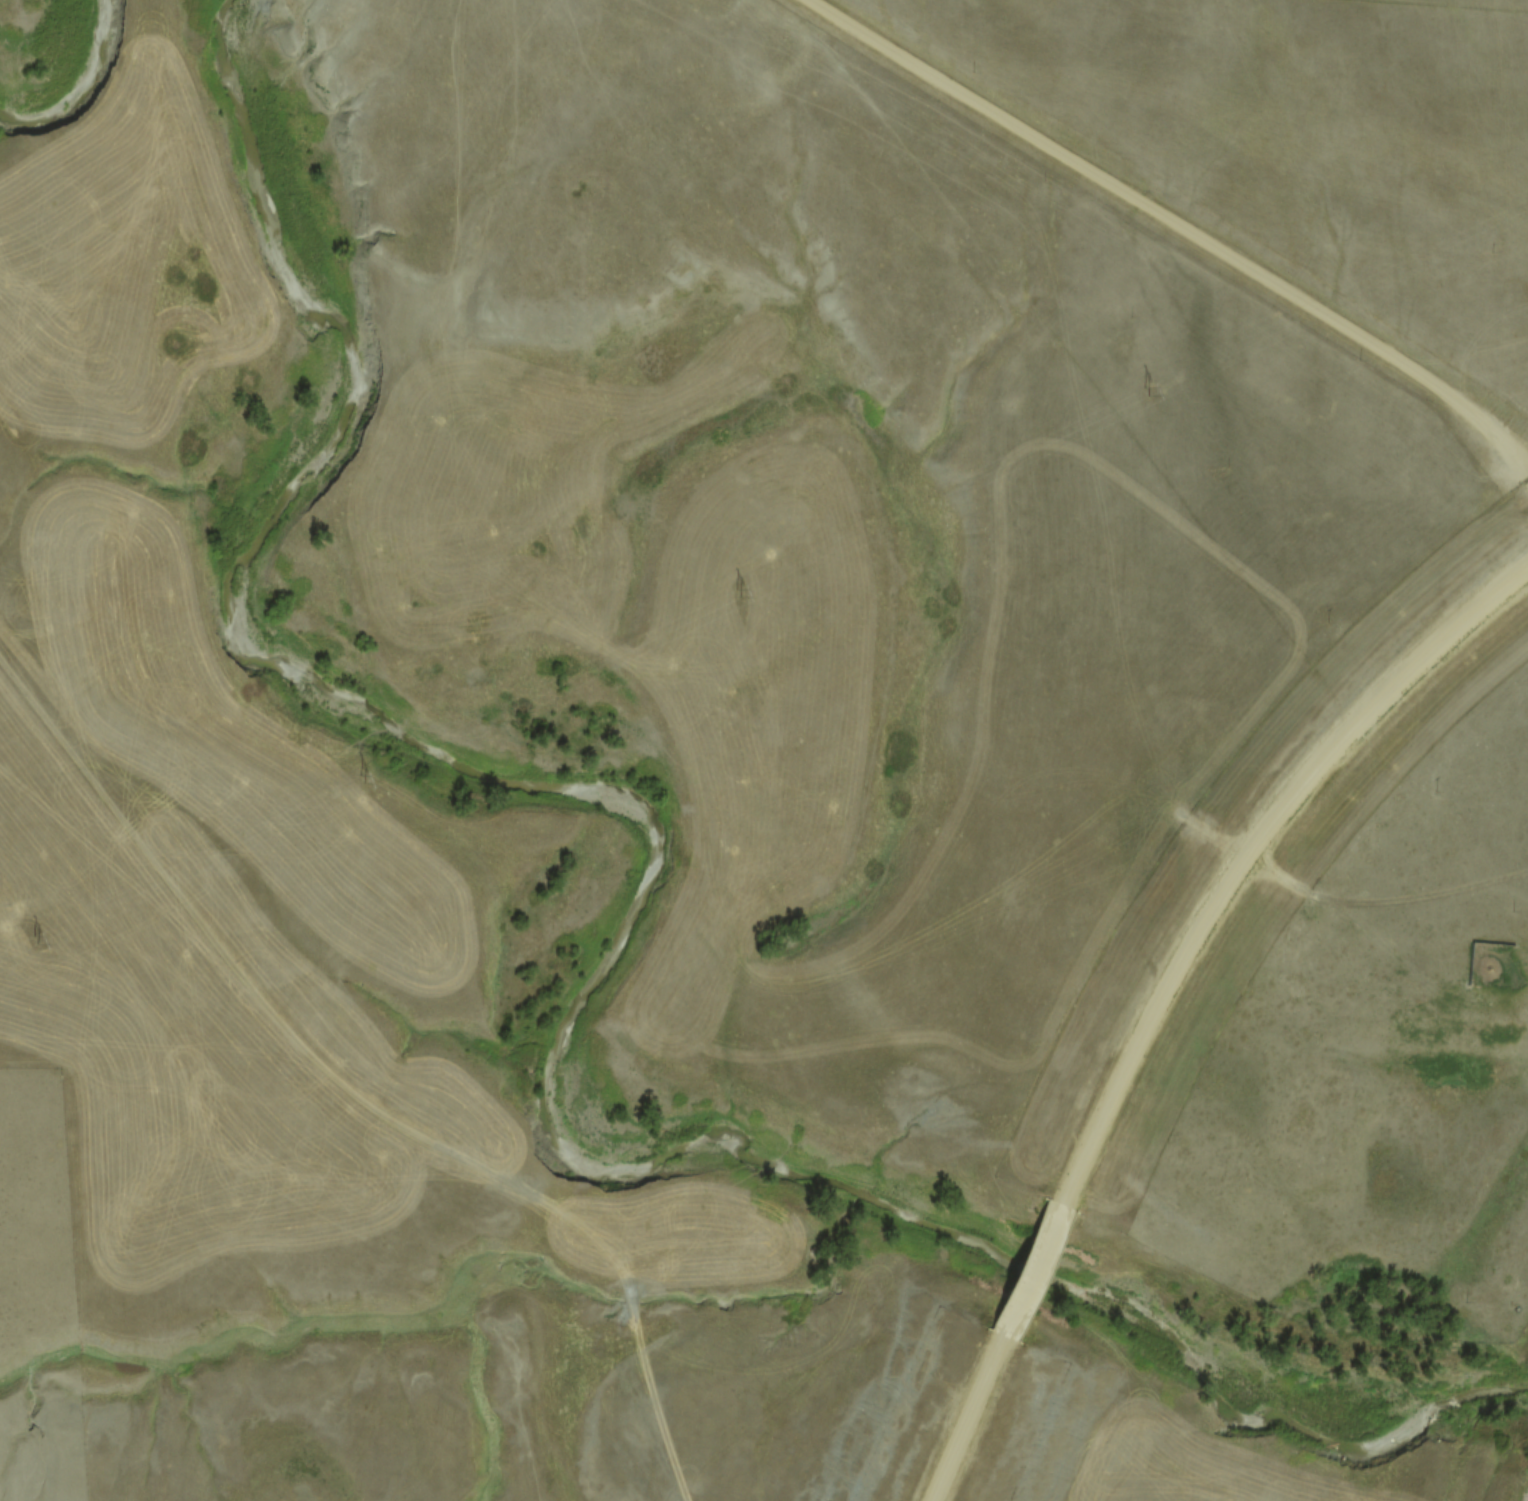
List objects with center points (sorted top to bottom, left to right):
road: (1175, 223)
power tower: (1143, 392)
power tower: (735, 593)
power tower: (358, 778)
power tower: (32, 939)
road: (1160, 987)
railway: (1527, 1500)

